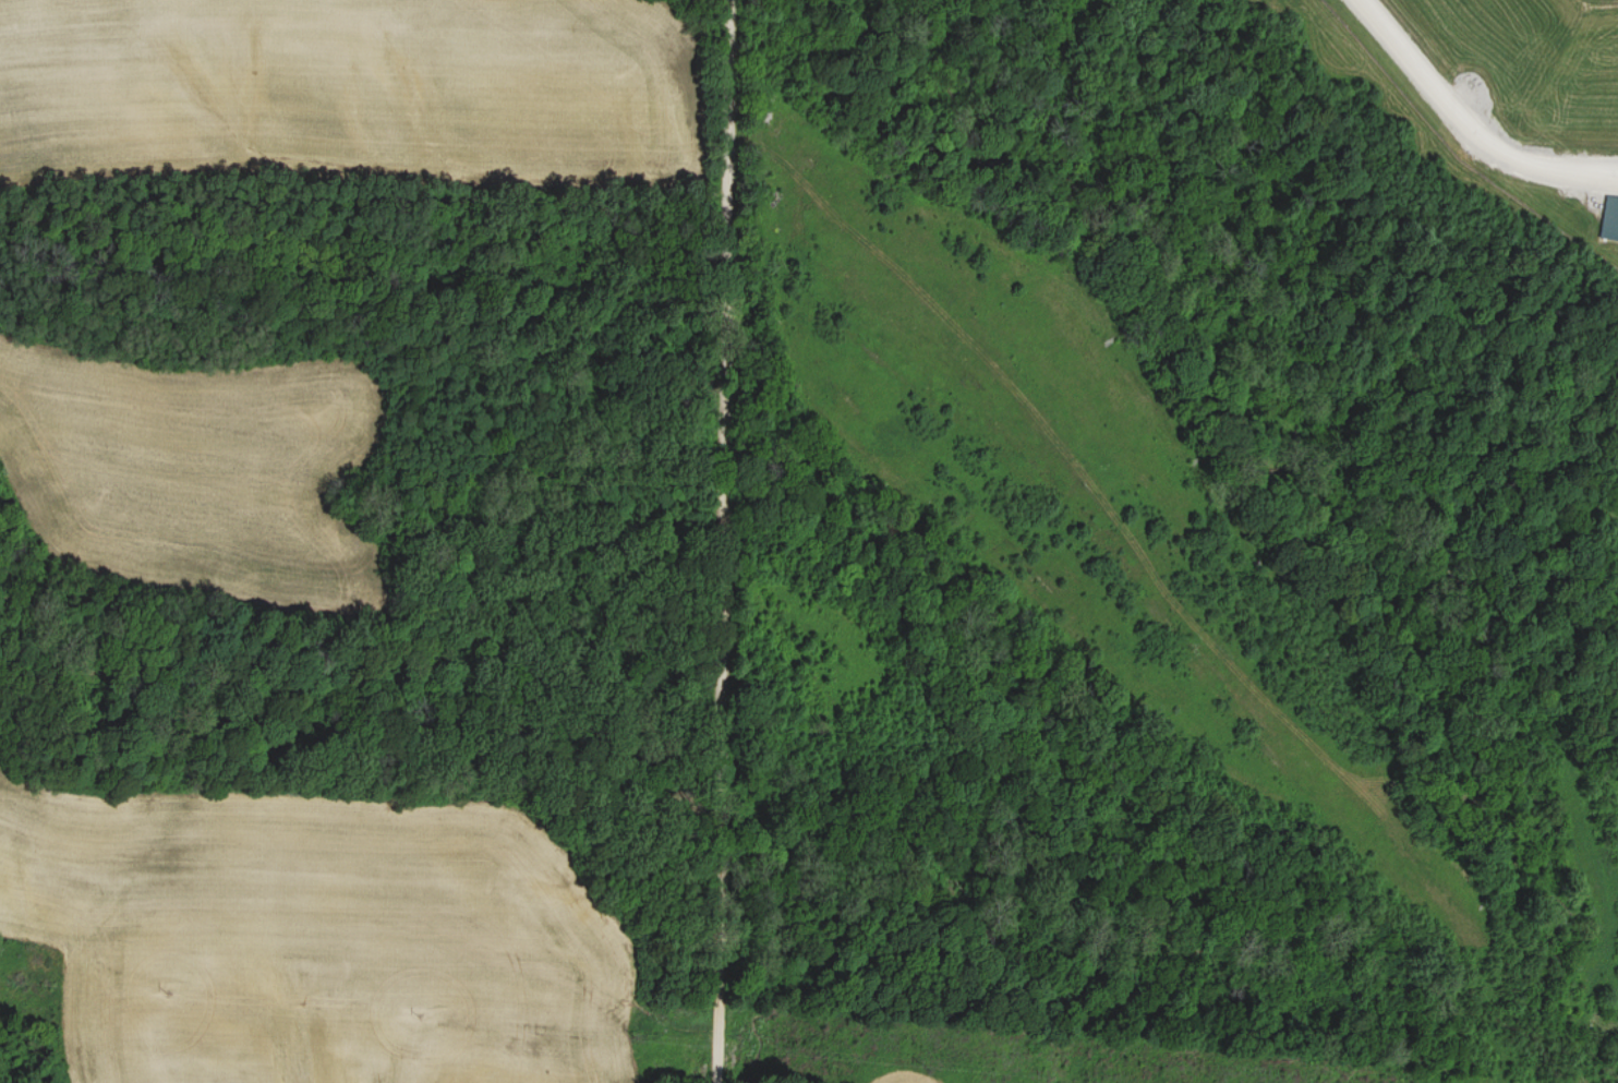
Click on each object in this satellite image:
building: (1610, 219)
road: (722, 541)

